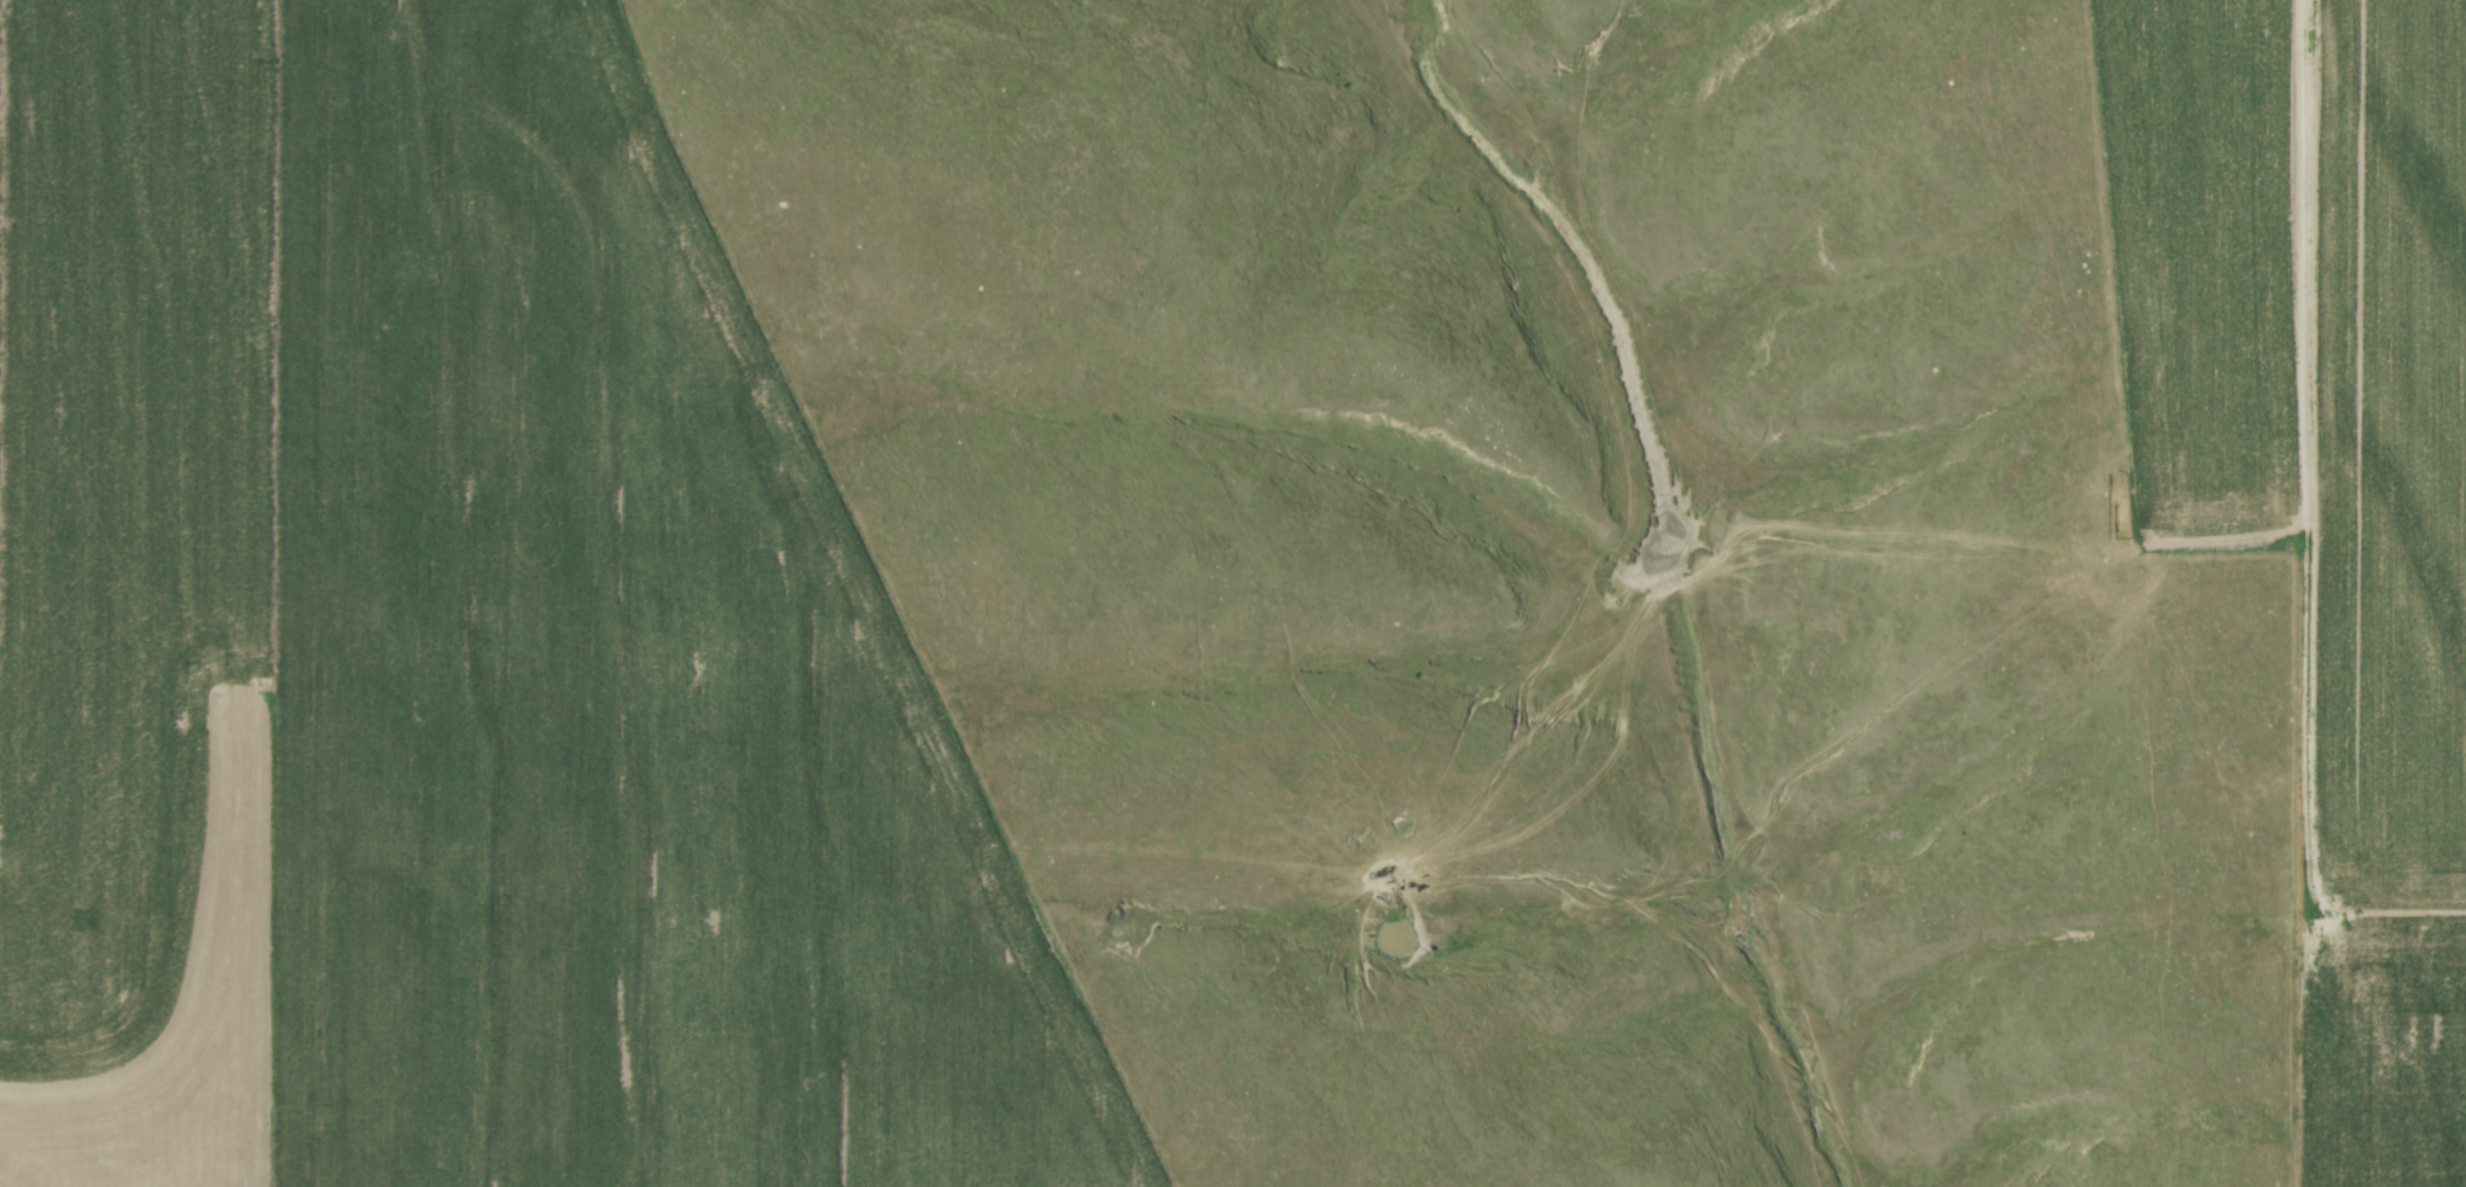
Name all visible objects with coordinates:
crop: (2200, 248)
crop: (2392, 452)
crop: (2385, 1041)

